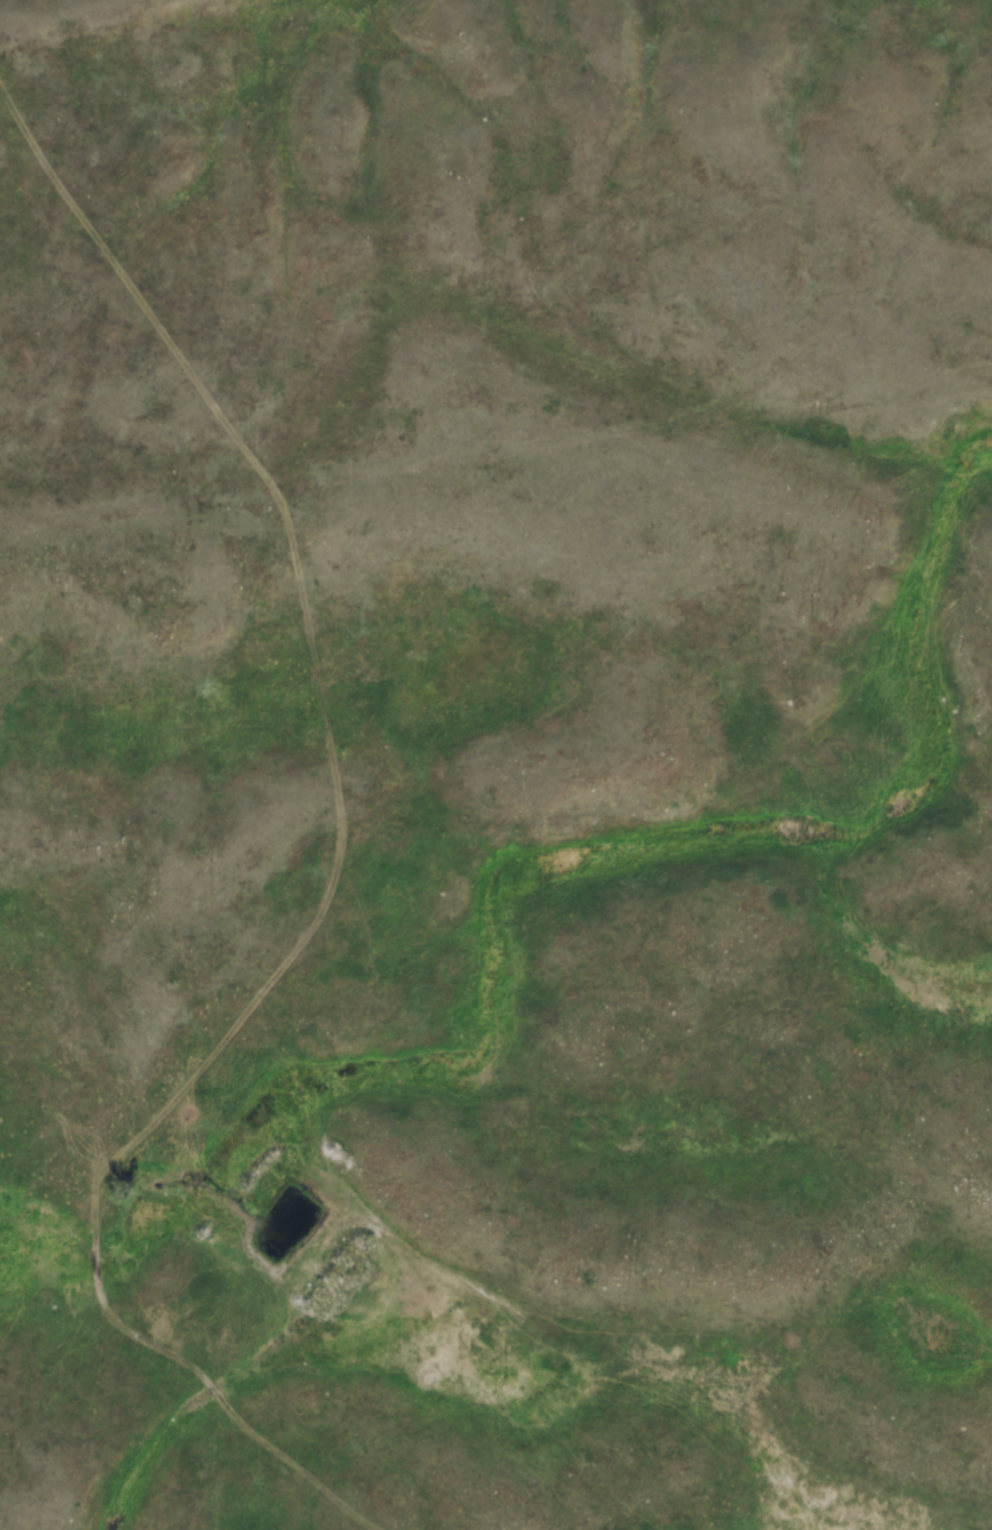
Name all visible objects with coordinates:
road: (309, 614)

